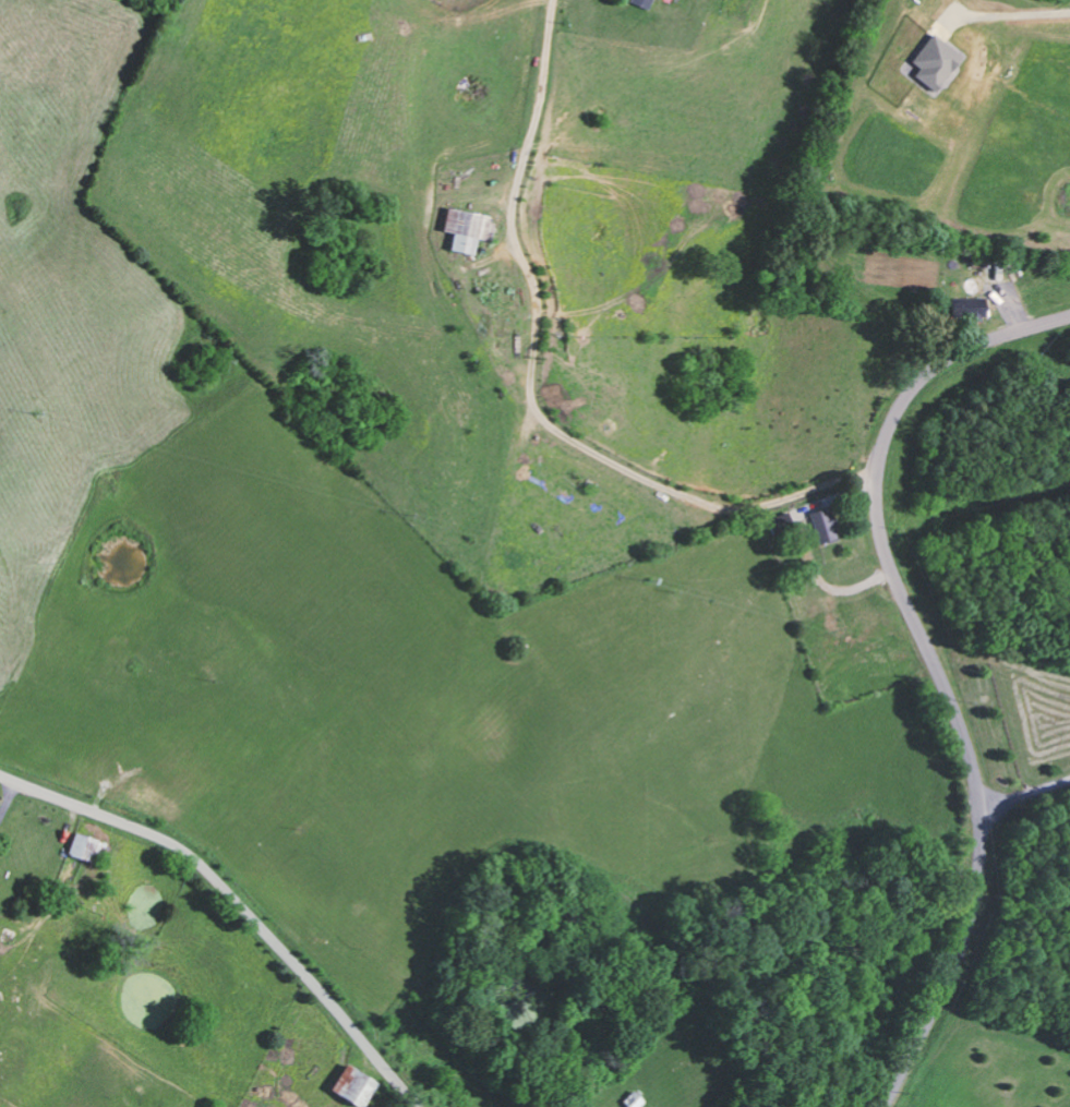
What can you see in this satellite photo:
building: (640, 2)
road: (1009, 19)
building: (934, 60)
building: (462, 228)
building: (972, 306)
road: (605, 469)
building: (822, 524)
road: (935, 661)
road: (1025, 793)
building: (84, 847)
road: (235, 902)
building: (348, 1086)

